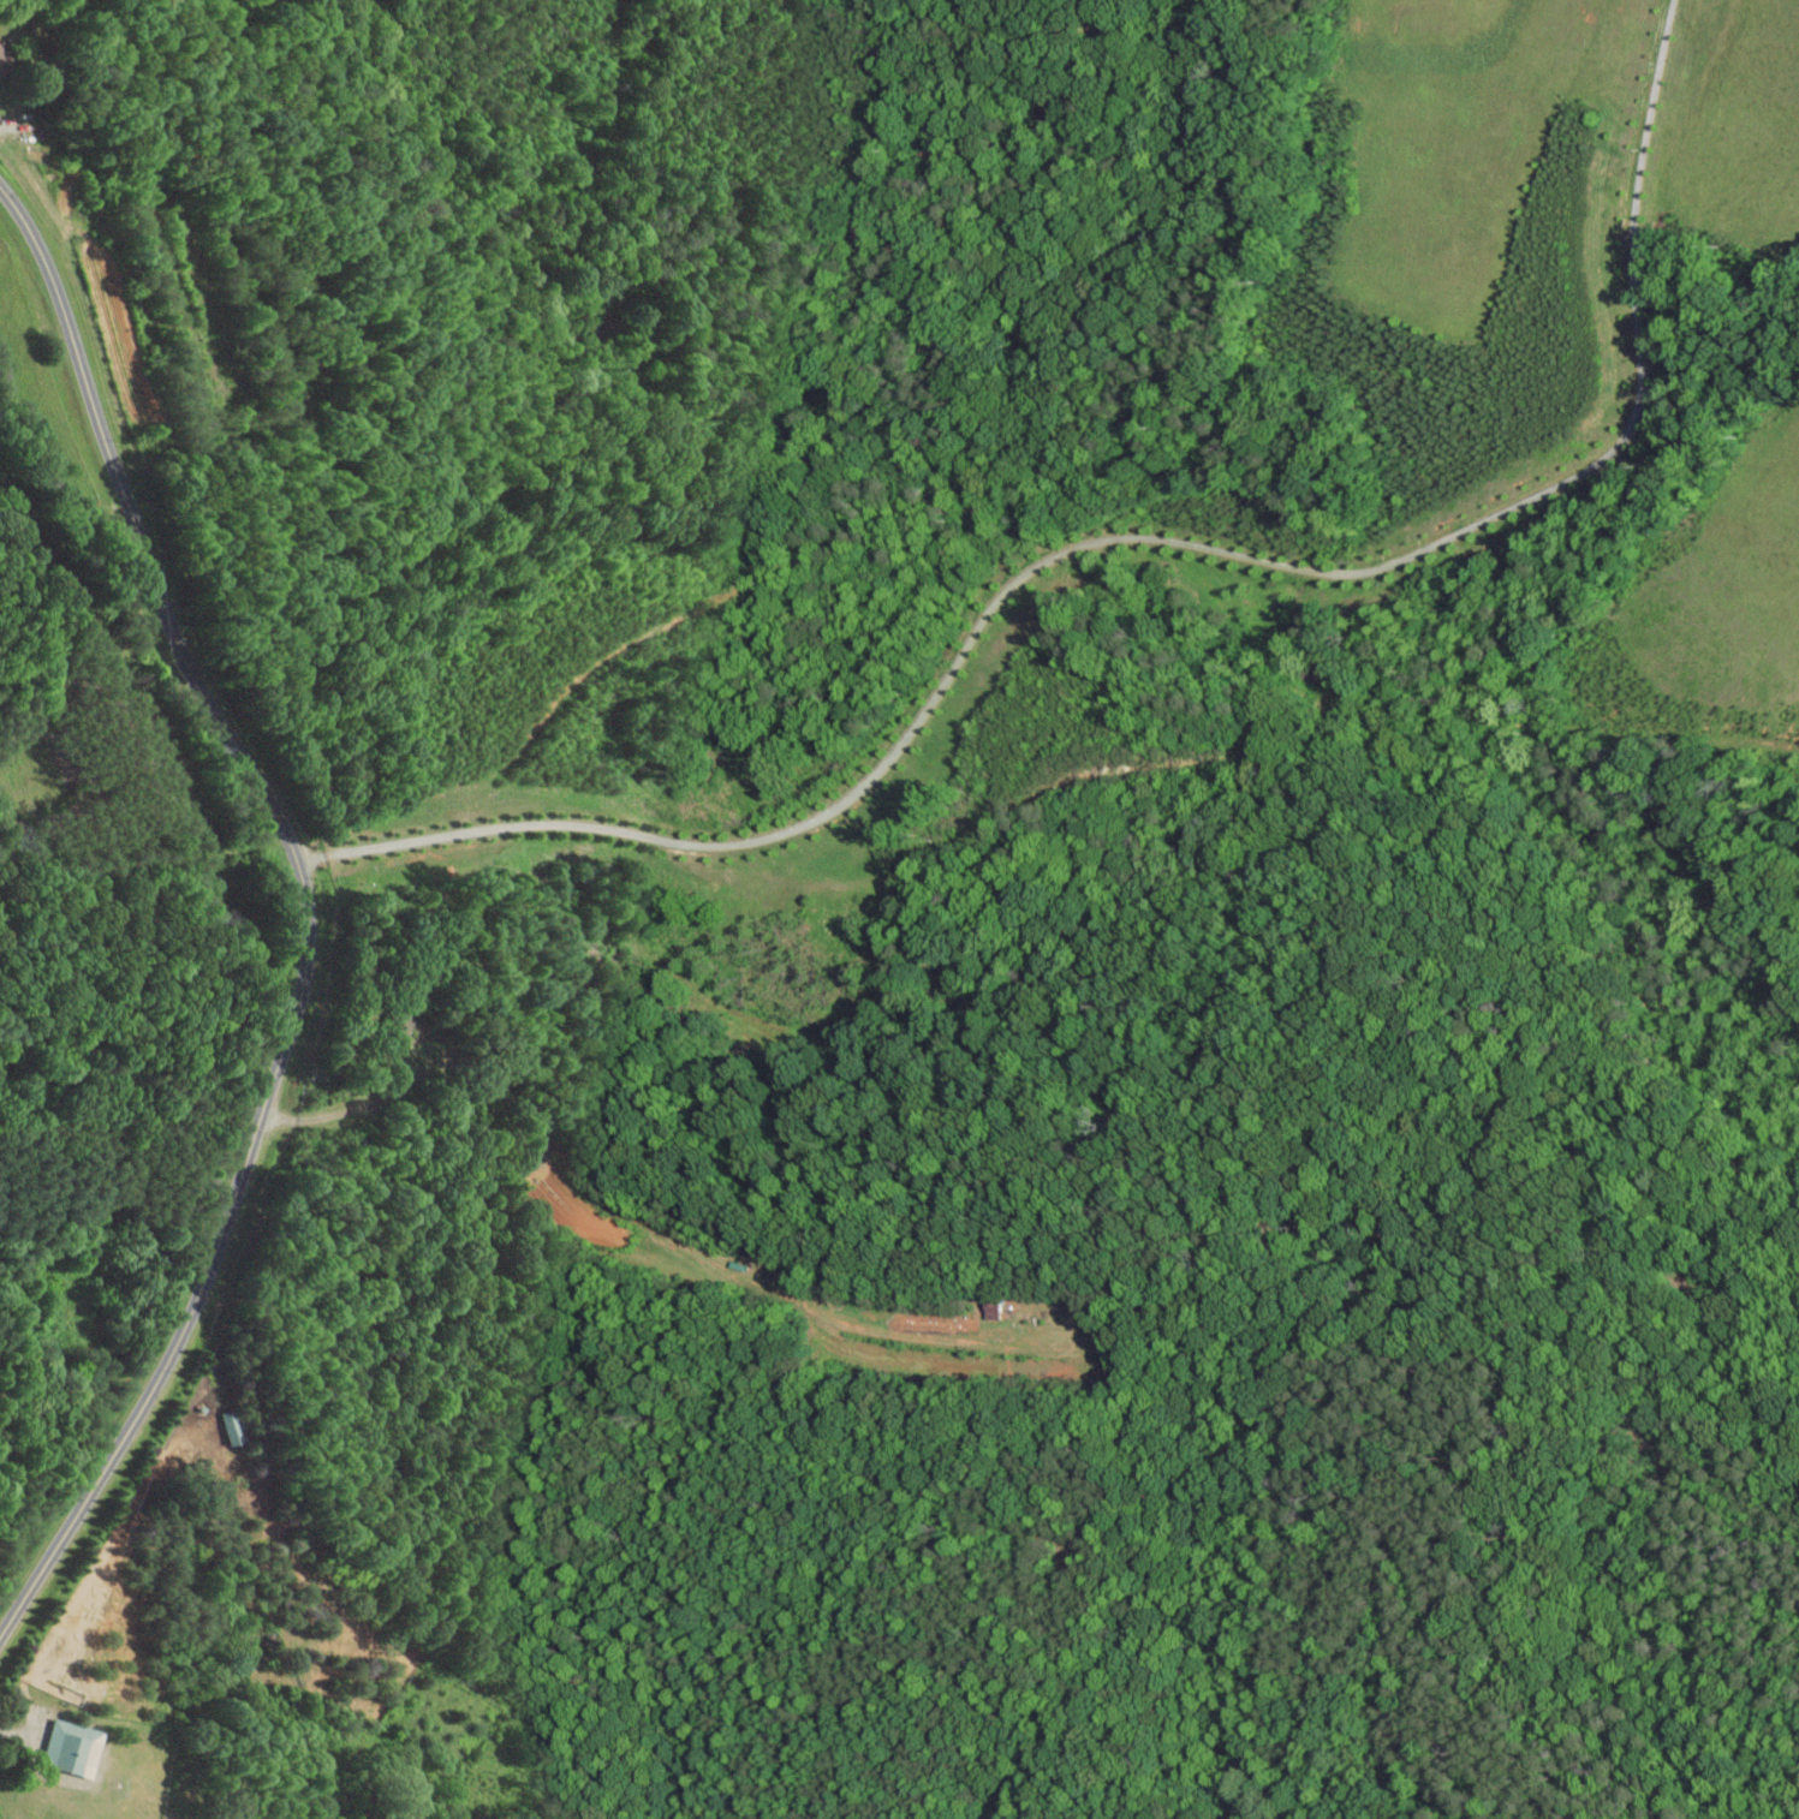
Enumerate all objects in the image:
building: (18, 46)
road: (304, 922)
building: (233, 1427)
building: (76, 1748)

